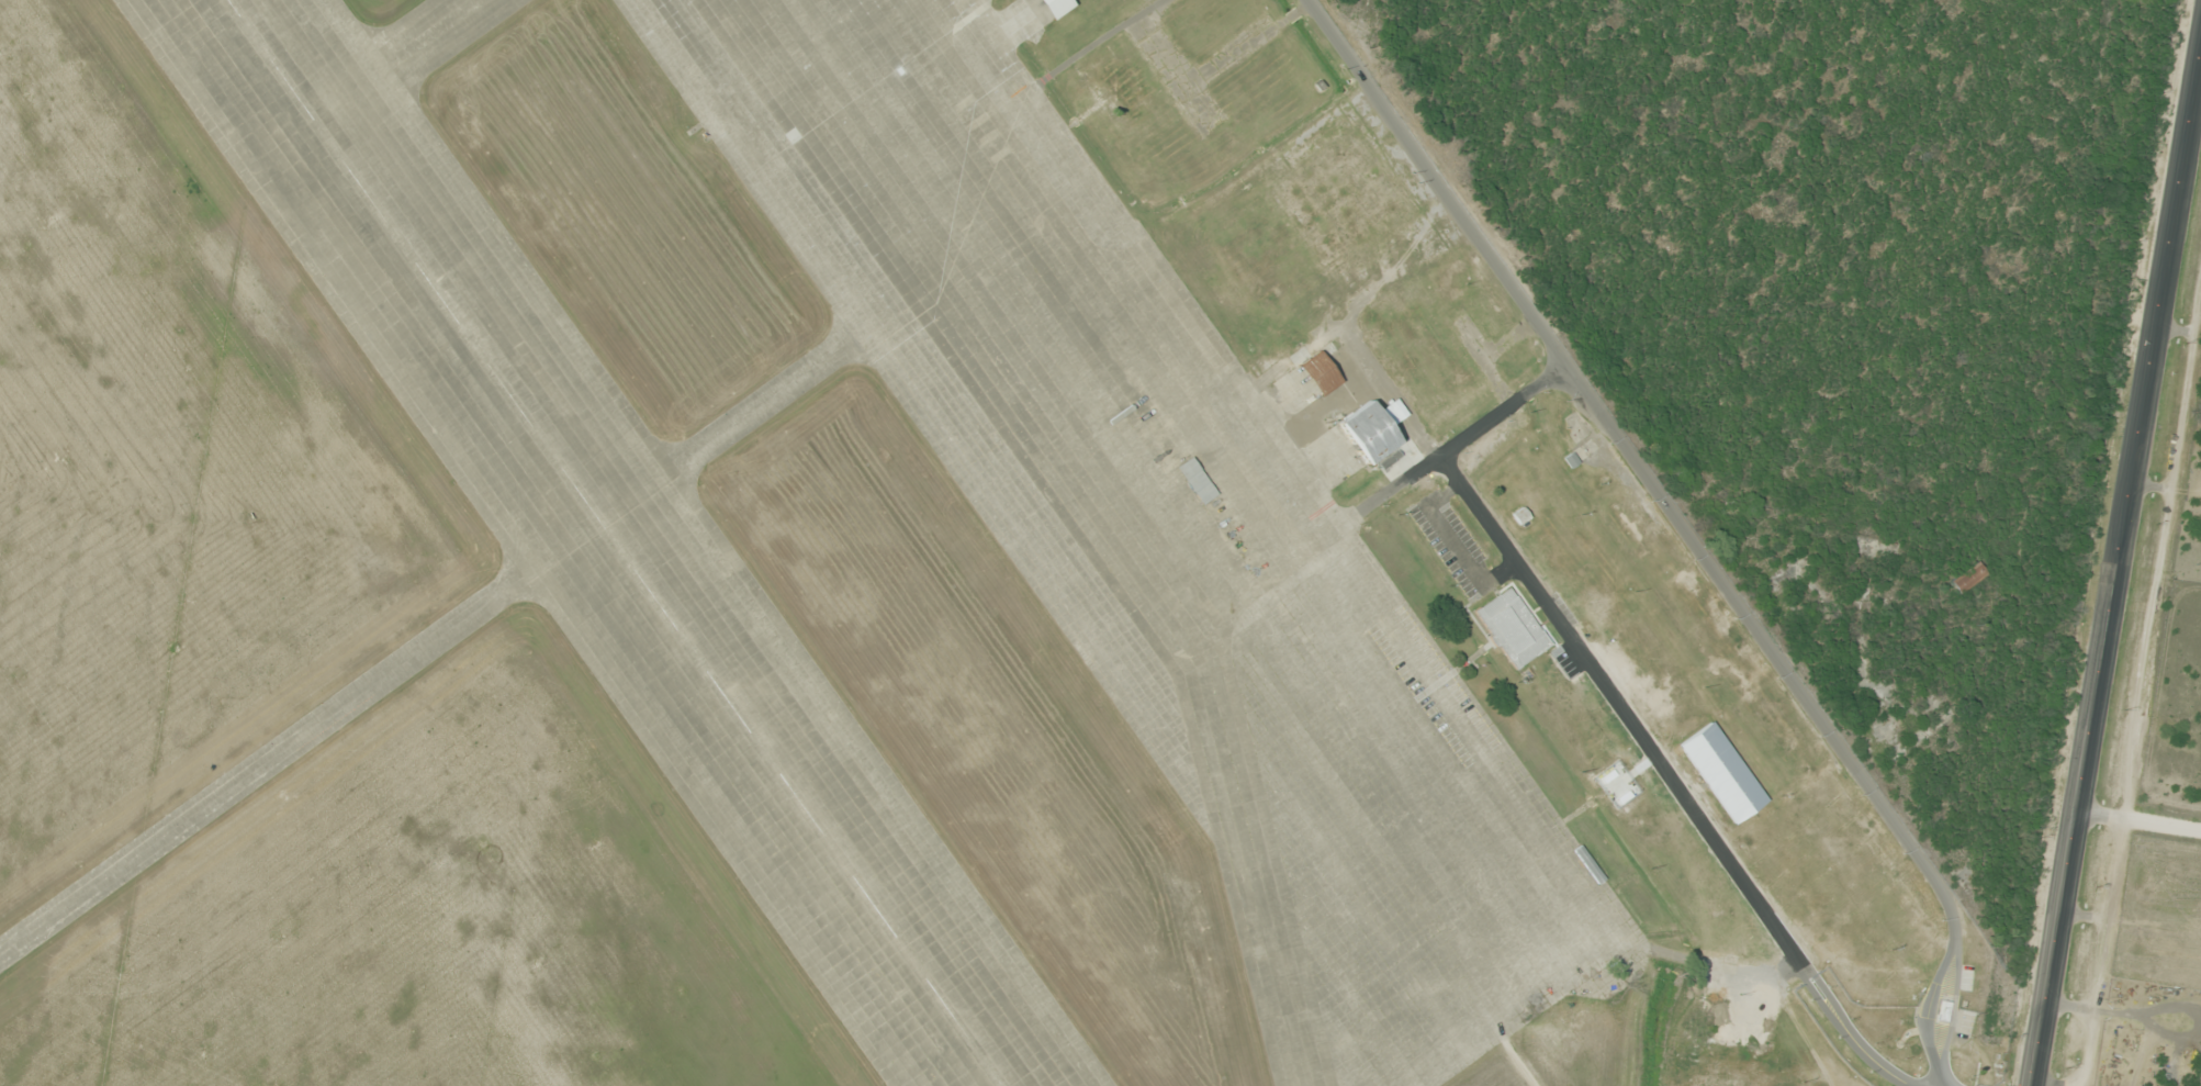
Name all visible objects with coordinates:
building: (1054, 7)
building: (704, 41)
airport taxiway: (401, 61)
building: (1121, 89)
road: (1176, 94)
road: (1322, 128)
road: (1438, 181)
road: (2035, 277)
road: (1363, 298)
building: (453, 325)
building: (1424, 356)
building: (1317, 372)
building: (1366, 432)
road: (1464, 443)
building: (1571, 460)
building: (1197, 481)
airport apron: (1152, 524)
airport runway: (613, 542)
road: (2116, 572)
building: (1970, 579)
airport: (869, 581)
building: (1513, 627)
airport taxiway: (426, 653)
road: (1811, 707)
building: (727, 719)
building: (1721, 773)
road: (1678, 796)
building: (1239, 899)
airport taxiway: (1309, 1043)
building: (984, 1064)
road: (1520, 1083)

